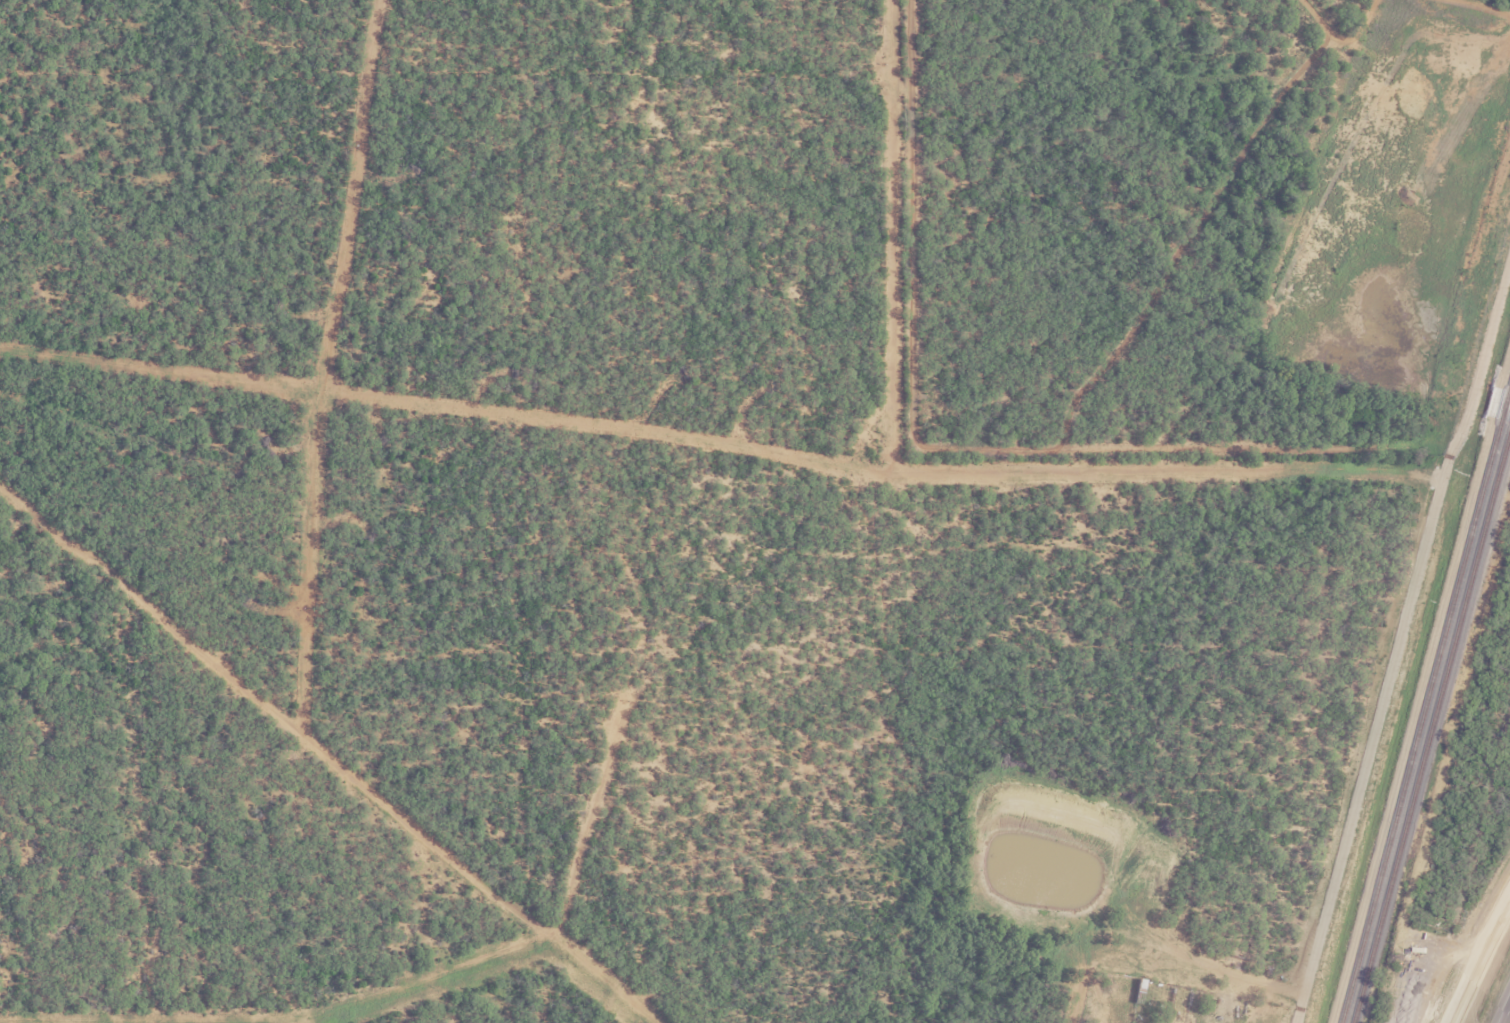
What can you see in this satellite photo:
railway: (1430, 727)
road: (1480, 958)
road: (1506, 1015)

